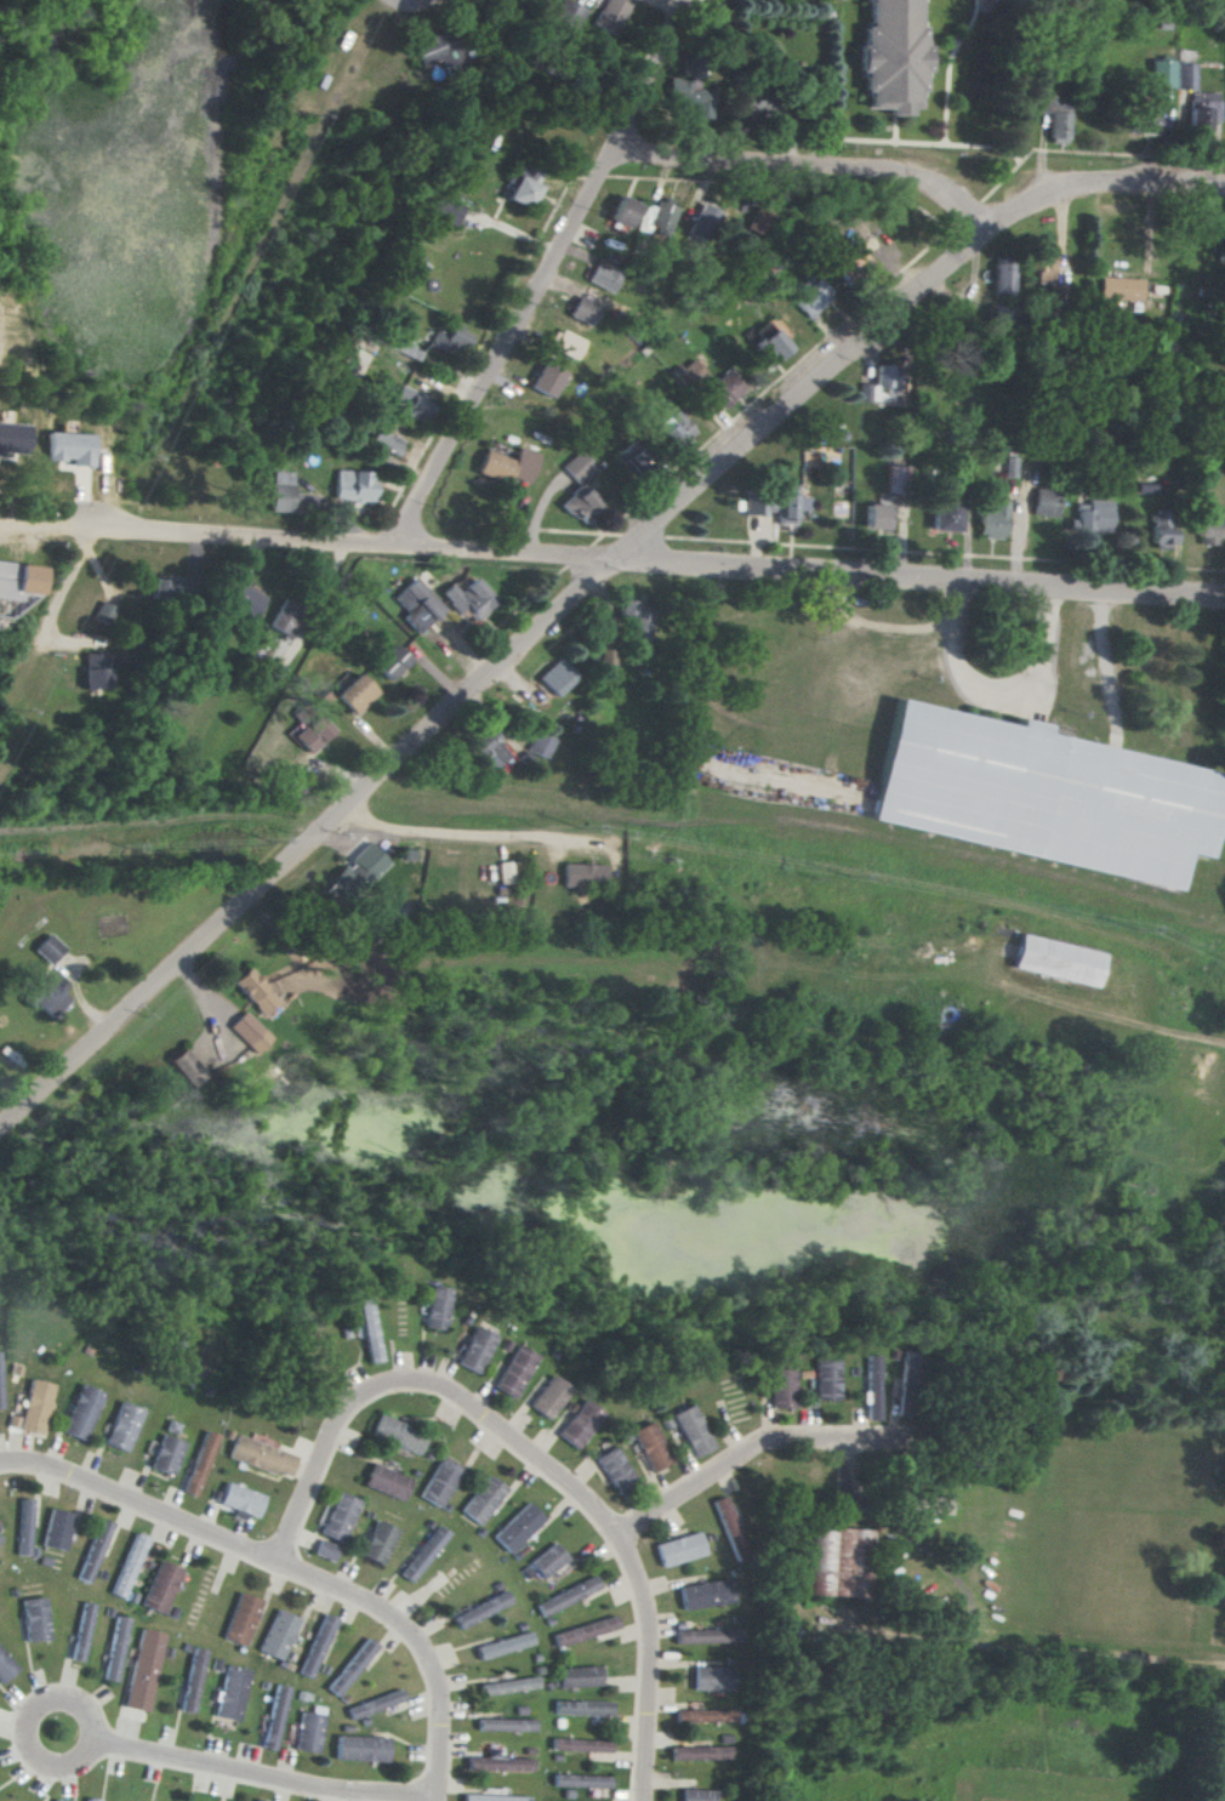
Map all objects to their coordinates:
building: (565, 15)
building: (608, 16)
building: (438, 51)
building: (893, 55)
building: (1161, 73)
building: (690, 96)
building: (1201, 110)
building: (1055, 118)
building: (1145, 121)
road: (813, 165)
road: (1100, 186)
building: (519, 192)
building: (622, 211)
building: (662, 216)
building: (702, 222)
building: (1043, 264)
road: (549, 274)
building: (603, 275)
building: (1002, 278)
building: (1121, 287)
building: (1055, 293)
building: (811, 296)
building: (582, 310)
building: (449, 338)
building: (767, 343)
building: (566, 344)
building: (690, 374)
building: (724, 392)
building: (410, 403)
building: (676, 428)
building: (384, 441)
building: (632, 456)
building: (509, 466)
building: (579, 466)
building: (1008, 466)
building: (895, 479)
building: (352, 486)
building: (280, 491)
building: (579, 503)
building: (945, 515)
building: (1093, 515)
building: (873, 517)
building: (991, 519)
building: (1160, 526)
road: (611, 558)
road: (67, 580)
building: (18, 588)
building: (159, 588)
building: (423, 599)
building: (468, 599)
building: (244, 600)
building: (104, 612)
building: (286, 617)
building: (632, 621)
road: (873, 625)
building: (392, 662)
building: (97, 669)
building: (273, 674)
building: (554, 677)
road: (488, 678)
building: (354, 690)
road: (995, 693)
building: (313, 731)
building: (541, 740)
building: (488, 750)
building: (1041, 794)
road: (474, 836)
building: (355, 874)
building: (583, 874)
building: (50, 948)
building: (1055, 959)
building: (256, 991)
building: (49, 997)
building: (247, 1028)
building: (188, 1067)
building: (438, 1307)
building: (367, 1327)
building: (475, 1350)
building: (514, 1370)
building: (826, 1379)
building: (905, 1384)
building: (872, 1386)
building: (782, 1387)
building: (0, 1396)
building: (549, 1397)
building: (35, 1407)
building: (81, 1412)
building: (580, 1424)
building: (122, 1426)
building: (693, 1430)
building: (397, 1435)
building: (650, 1446)
road: (759, 1448)
building: (167, 1454)
road: (537, 1455)
building: (263, 1457)
building: (200, 1463)
building: (615, 1470)
building: (387, 1481)
building: (439, 1482)
building: (483, 1499)
building: (241, 1500)
building: (340, 1516)
building: (24, 1527)
building: (517, 1527)
building: (729, 1527)
building: (57, 1528)
building: (0, 1538)
road: (908, 1538)
building: (378, 1541)
building: (679, 1549)
building: (325, 1550)
building: (423, 1552)
building: (834, 1561)
building: (545, 1562)
building: (129, 1565)
road: (290, 1566)
building: (160, 1586)
building: (706, 1594)
building: (568, 1596)
building: (480, 1609)
building: (35, 1619)
building: (241, 1619)
building: (585, 1630)
building: (81, 1632)
building: (278, 1634)
building: (707, 1635)
building: (319, 1643)
building: (503, 1645)
road: (1014, 1645)
building: (115, 1648)
building: (6, 1666)
building: (352, 1668)
building: (143, 1669)
building: (577, 1676)
building: (712, 1679)
building: (192, 1680)
building: (508, 1685)
building: (232, 1692)
building: (375, 1704)
building: (582, 1708)
building: (702, 1714)
building: (273, 1717)
building: (505, 1725)
building: (308, 1732)
building: (580, 1744)
building: (361, 1748)
building: (700, 1752)
building: (500, 1763)
road: (241, 1773)
building: (581, 1780)
building: (494, 1795)
building: (697, 1795)
building: (93, 1799)
road: (434, 1799)
building: (57, 1800)

